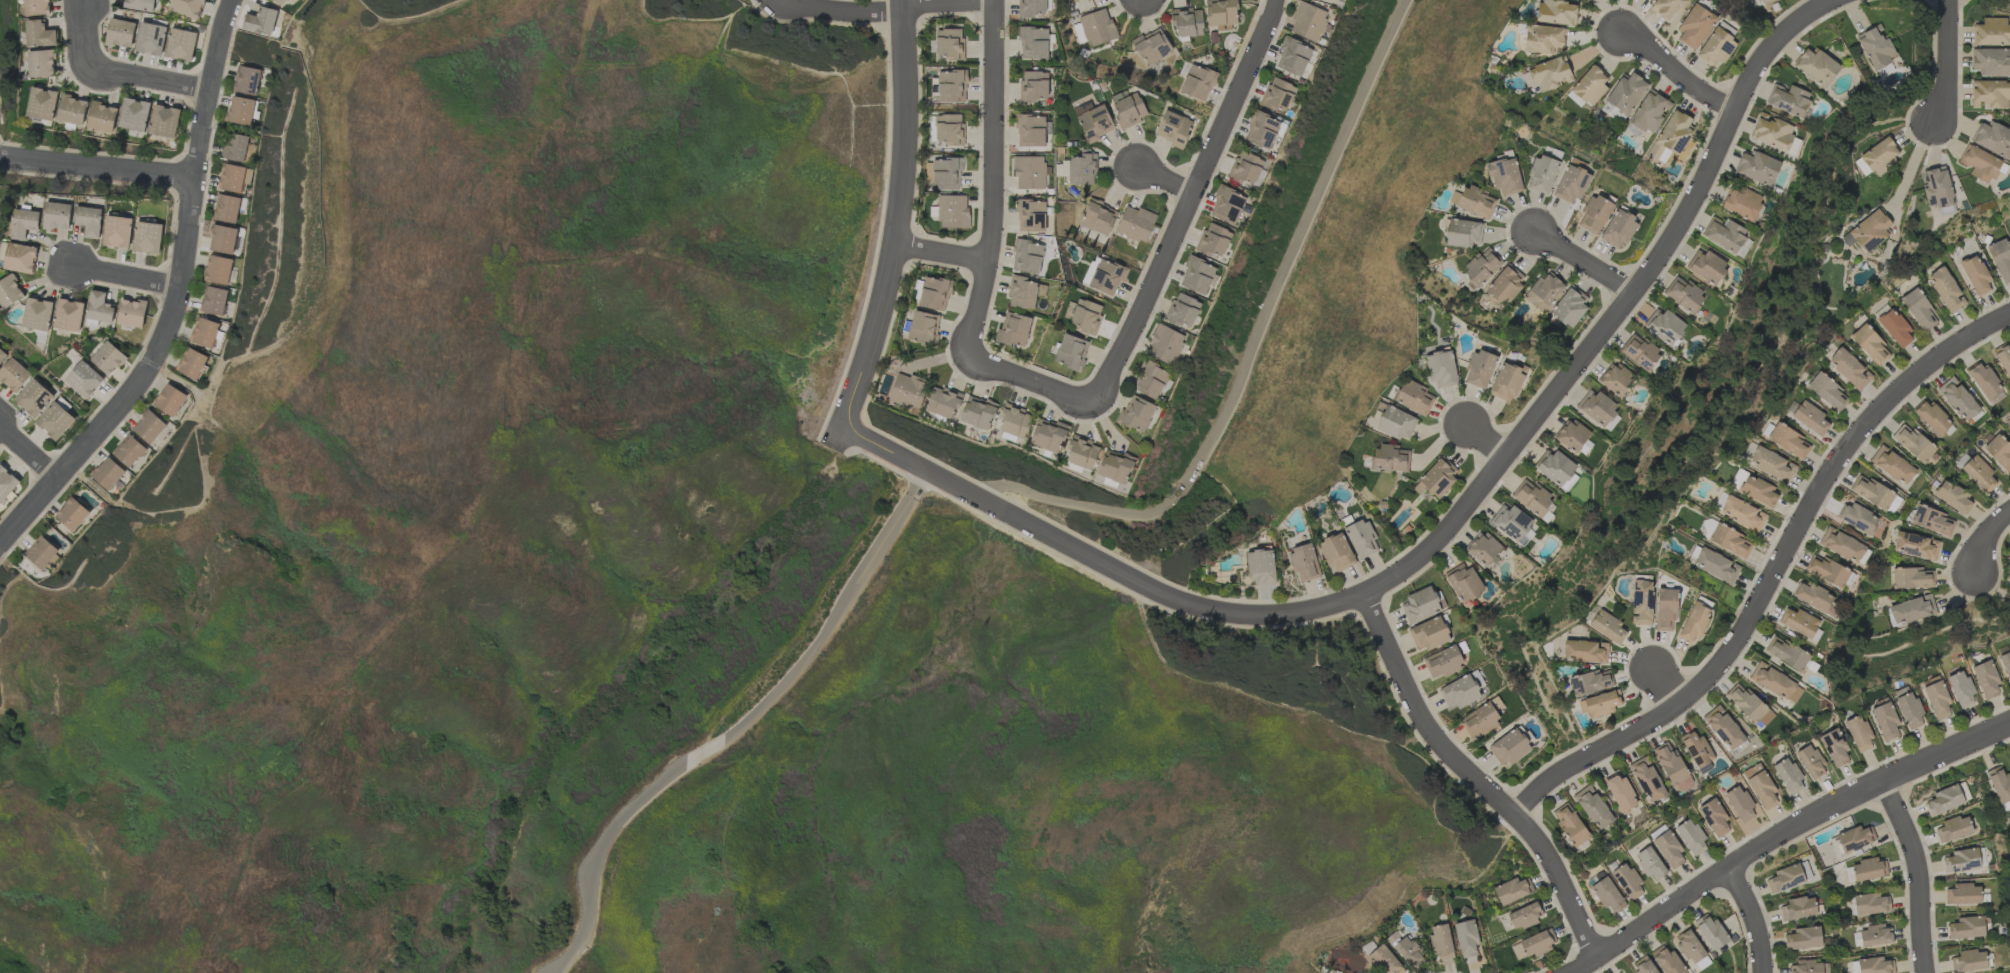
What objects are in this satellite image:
building: (1764, 1)
building: (280, 2)
road: (948, 3)
building: (139, 5)
building: (37, 7)
building: (187, 7)
building: (1032, 8)
building: (1667, 8)
building: (1555, 12)
road: (842, 13)
building: (1221, 13)
building: (260, 21)
building: (1307, 21)
building: (1186, 22)
building: (1694, 26)
building: (1097, 27)
building: (1990, 32)
building: (119, 33)
building: (1078, 33)
building: (39, 34)
building: (149, 38)
building: (1542, 39)
building: (1033, 43)
building: (180, 44)
building: (949, 44)
building: (1152, 46)
building: (1875, 46)
building: (1715, 47)
building: (1292, 56)
building: (1991, 61)
road: (1947, 62)
building: (41, 63)
building: (1816, 67)
building: (1883, 70)
road: (114, 71)
building: (1549, 74)
road: (1680, 77)
building: (245, 80)
building: (1197, 82)
building: (1590, 85)
building: (951, 86)
building: (1033, 86)
building: (1626, 93)
building: (1276, 94)
building: (1989, 94)
building: (1788, 100)
building: (41, 103)
building: (1081, 108)
building: (72, 110)
building: (239, 110)
building: (1129, 110)
building: (1649, 112)
building: (134, 114)
building: (101, 117)
building: (163, 121)
building: (1095, 123)
building: (1172, 128)
building: (1260, 129)
building: (948, 130)
building: (1031, 130)
building: (1774, 135)
building: (1670, 137)
building: (1992, 139)
building: (234, 148)
building: (1880, 155)
building: (1980, 164)
road: (96, 168)
building: (1245, 168)
building: (1758, 168)
building: (1082, 169)
road: (1907, 171)
building: (1029, 172)
building: (945, 174)
building: (1541, 174)
building: (1504, 177)
building: (232, 178)
road: (995, 180)
road: (1164, 182)
building: (1570, 184)
building: (1936, 187)
building: (1473, 201)
building: (1741, 203)
road: (1188, 205)
building: (1226, 205)
building: (225, 209)
building: (0, 210)
building: (952, 212)
building: (1594, 214)
building: (1030, 215)
building: (56, 216)
road: (896, 217)
building: (1098, 217)
building: (88, 221)
building: (23, 223)
building: (1134, 224)
building: (1618, 229)
building: (1870, 230)
building: (117, 231)
building: (1462, 233)
building: (1723, 234)
building: (147, 238)
building: (222, 239)
building: (1213, 240)
building: (1743, 248)
road: (942, 254)
building: (1026, 257)
building: (19, 258)
building: (2000, 259)
road: (1584, 262)
building: (1481, 266)
building: (1706, 266)
building: (217, 270)
road: (122, 275)
building: (1196, 275)
building: (1975, 276)
building: (1106, 277)
building: (1504, 284)
building: (1946, 290)
building: (9, 291)
building: (1543, 292)
building: (934, 293)
building: (1024, 293)
building: (1684, 294)
road: (176, 300)
building: (213, 301)
building: (1569, 306)
building: (98, 307)
building: (1182, 310)
building: (1918, 310)
building: (131, 313)
building: (36, 314)
building: (68, 315)
building: (1085, 316)
building: (1664, 326)
building: (922, 328)
building: (1895, 328)
building: (1013, 330)
building: (203, 332)
building: (1164, 344)
building: (1870, 345)
road: (1248, 351)
building: (1639, 351)
building: (1070, 352)
building: (2, 355)
building: (107, 358)
building: (2004, 359)
building: (191, 363)
building: (1479, 368)
building: (1440, 369)
building: (1850, 369)
building: (13, 375)
building: (83, 379)
building: (1615, 379)
building: (1149, 380)
building: (1507, 381)
road: (1029, 382)
building: (1985, 382)
building: (906, 390)
building: (1827, 392)
building: (1414, 397)
building: (34, 398)
building: (1958, 399)
building: (169, 400)
building: (942, 402)
building: (1596, 407)
building: (977, 412)
building: (1135, 413)
building: (1810, 418)
building: (1933, 419)
building: (54, 421)
building: (1014, 421)
building: (1395, 423)
building: (148, 427)
building: (1571, 435)
building: (1047, 436)
building: (1787, 440)
building: (1912, 442)
road: (1487, 443)
building: (128, 451)
building: (1998, 452)
building: (1081, 453)
road: (28, 455)
building: (1389, 458)
building: (1771, 464)
building: (1892, 465)
building: (1115, 466)
building: (1554, 467)
building: (1978, 473)
building: (107, 474)
road: (490, 475)
building: (1436, 478)
building: (1737, 479)
building: (6, 483)
building: (1759, 491)
building: (1871, 492)
building: (1530, 497)
building: (1953, 497)
building: (1893, 504)
building: (71, 514)
building: (1742, 514)
building: (1857, 518)
building: (1932, 521)
building: (1510, 522)
road: (1438, 535)
building: (1524, 537)
road: (1986, 538)
building: (1361, 539)
building: (1730, 541)
building: (1843, 546)
building: (1915, 546)
building: (1482, 548)
building: (40, 553)
building: (1335, 553)
building: (1303, 563)
building: (1715, 566)
building: (1260, 567)
building: (1825, 570)
road: (1772, 578)
building: (1911, 578)
building: (1463, 582)
building: (1813, 597)
building: (1641, 602)
building: (1420, 605)
building: (1665, 610)
building: (1911, 610)
building: (1798, 622)
building: (1693, 623)
building: (1607, 627)
building: (1428, 634)
building: (1584, 652)
building: (1786, 653)
building: (1443, 662)
building: (2005, 664)
building: (1985, 679)
building: (1589, 682)
building: (1775, 683)
road: (1663, 687)
building: (1960, 689)
building: (1459, 692)
building: (1935, 698)
building: (1599, 704)
building: (1748, 705)
building: (1909, 710)
building: (1479, 720)
building: (1885, 721)
road: (737, 727)
building: (1723, 728)
building: (1858, 734)
building: (1508, 747)
building: (1834, 747)
building: (1697, 751)
building: (1810, 762)
building: (1671, 766)
building: (1787, 776)
road: (1475, 780)
building: (1647, 780)
building: (1760, 786)
building: (2000, 787)
building: (1620, 793)
building: (1944, 800)
building: (1739, 804)
building: (1592, 808)
building: (1714, 818)
building: (1569, 824)
building: (1953, 829)
road: (1782, 834)
building: (1691, 837)
building: (1855, 838)
building: (1668, 850)
building: (1961, 860)
building: (1650, 863)
building: (1868, 869)
road: (1918, 873)
building: (1785, 878)
building: (1627, 881)
building: (1512, 890)
building: (1963, 894)
building: (1607, 895)
building: (1870, 904)
building: (1797, 908)
building: (1525, 916)
road: (1754, 918)
building: (1966, 928)
building: (1711, 932)
building: (1875, 935)
building: (1466, 938)
building: (1803, 938)
building: (1441, 942)
building: (1537, 943)
building: (1689, 946)
building: (1408, 953)
building: (1384, 960)
building: (1968, 960)
building: (1667, 961)
building: (1702, 963)
building: (1875, 965)
building: (1644, 966)
building: (1805, 967)

